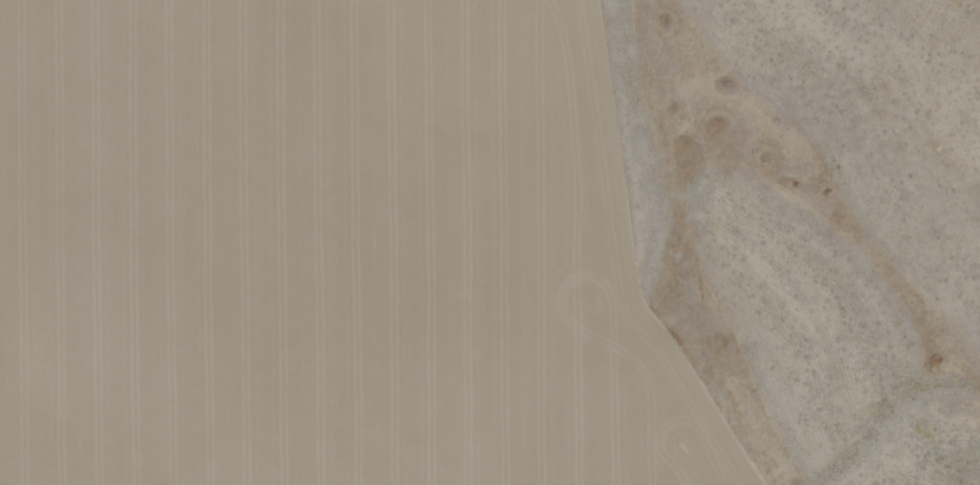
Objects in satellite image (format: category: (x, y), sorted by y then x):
crop: (490, 242)

